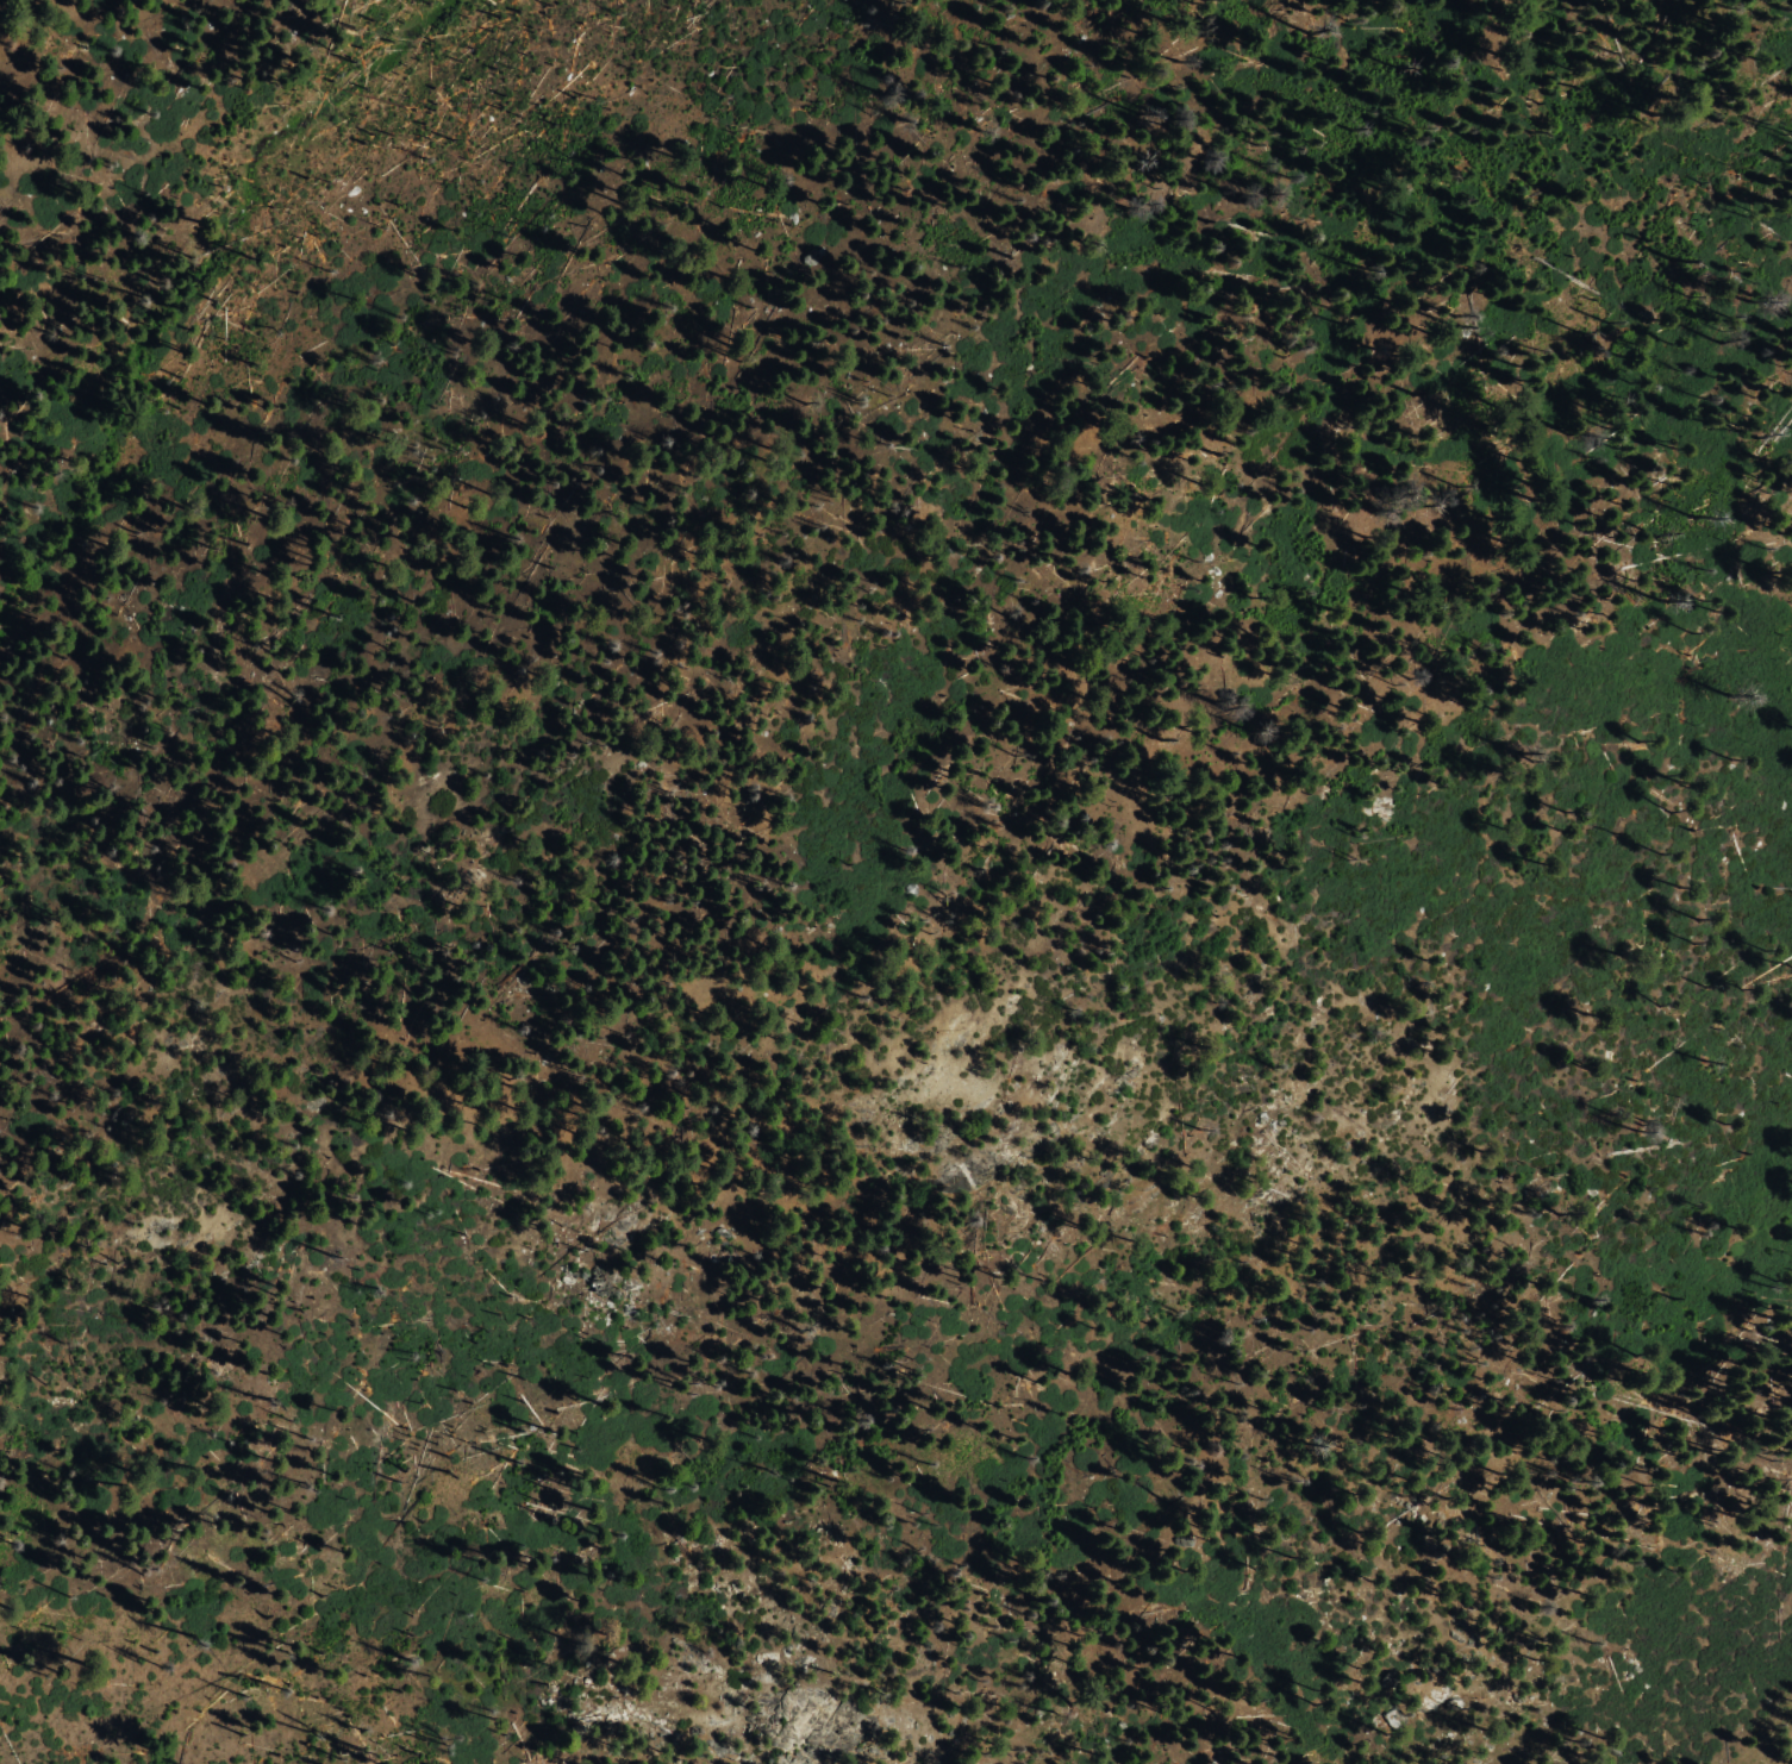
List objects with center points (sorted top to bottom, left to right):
road: (1761, 1743)

